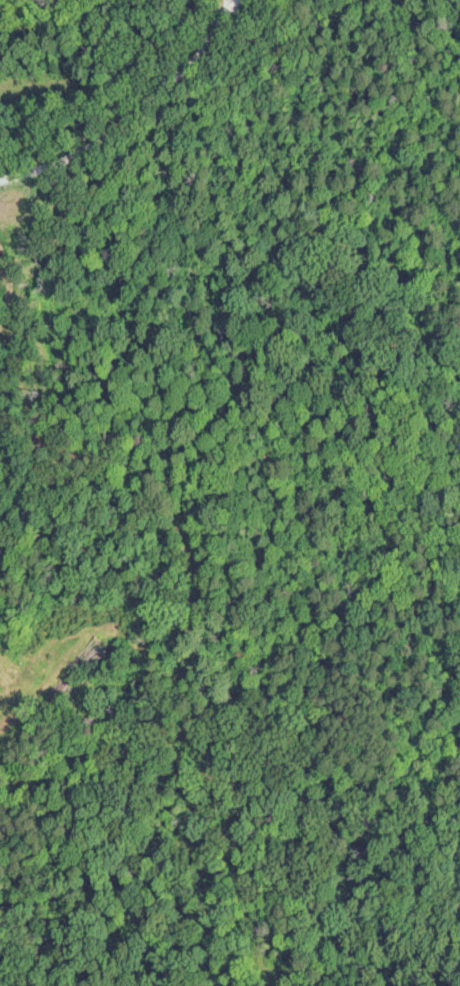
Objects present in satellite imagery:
road: (128, 103)
road: (111, 472)
road: (173, 729)

